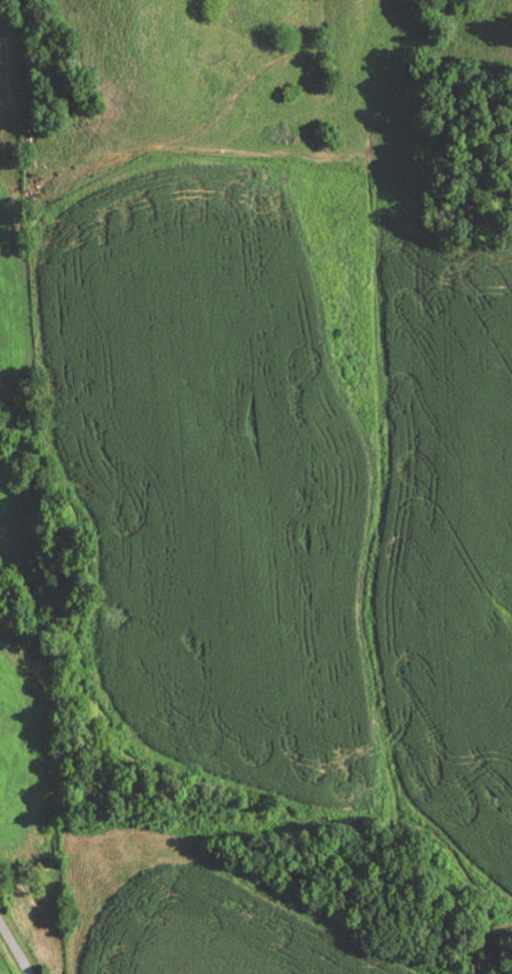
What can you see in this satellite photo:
road: (13, 947)

